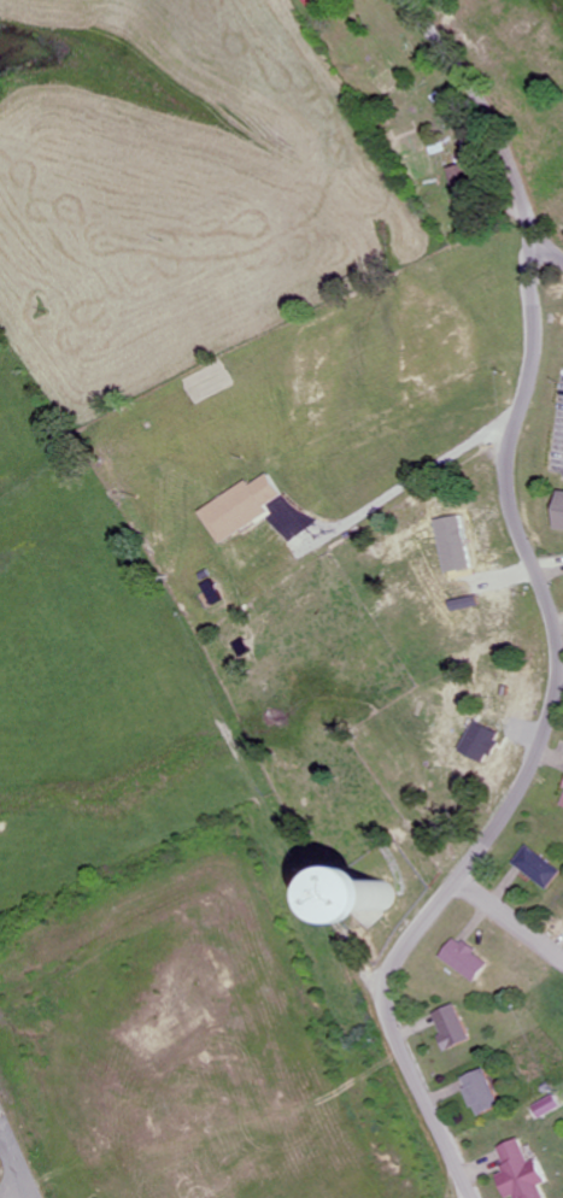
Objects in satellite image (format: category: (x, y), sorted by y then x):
road: (489, 107)
road: (549, 243)
building: (244, 509)
building: (561, 513)
building: (456, 545)
building: (465, 604)
road: (547, 740)
building: (481, 742)
building: (562, 804)
building: (538, 868)
building: (364, 906)
road: (514, 918)
building: (467, 961)
building: (452, 1028)
building: (482, 1091)
building: (549, 1105)
road: (16, 1164)
building: (522, 1171)
road: (28, 1197)

